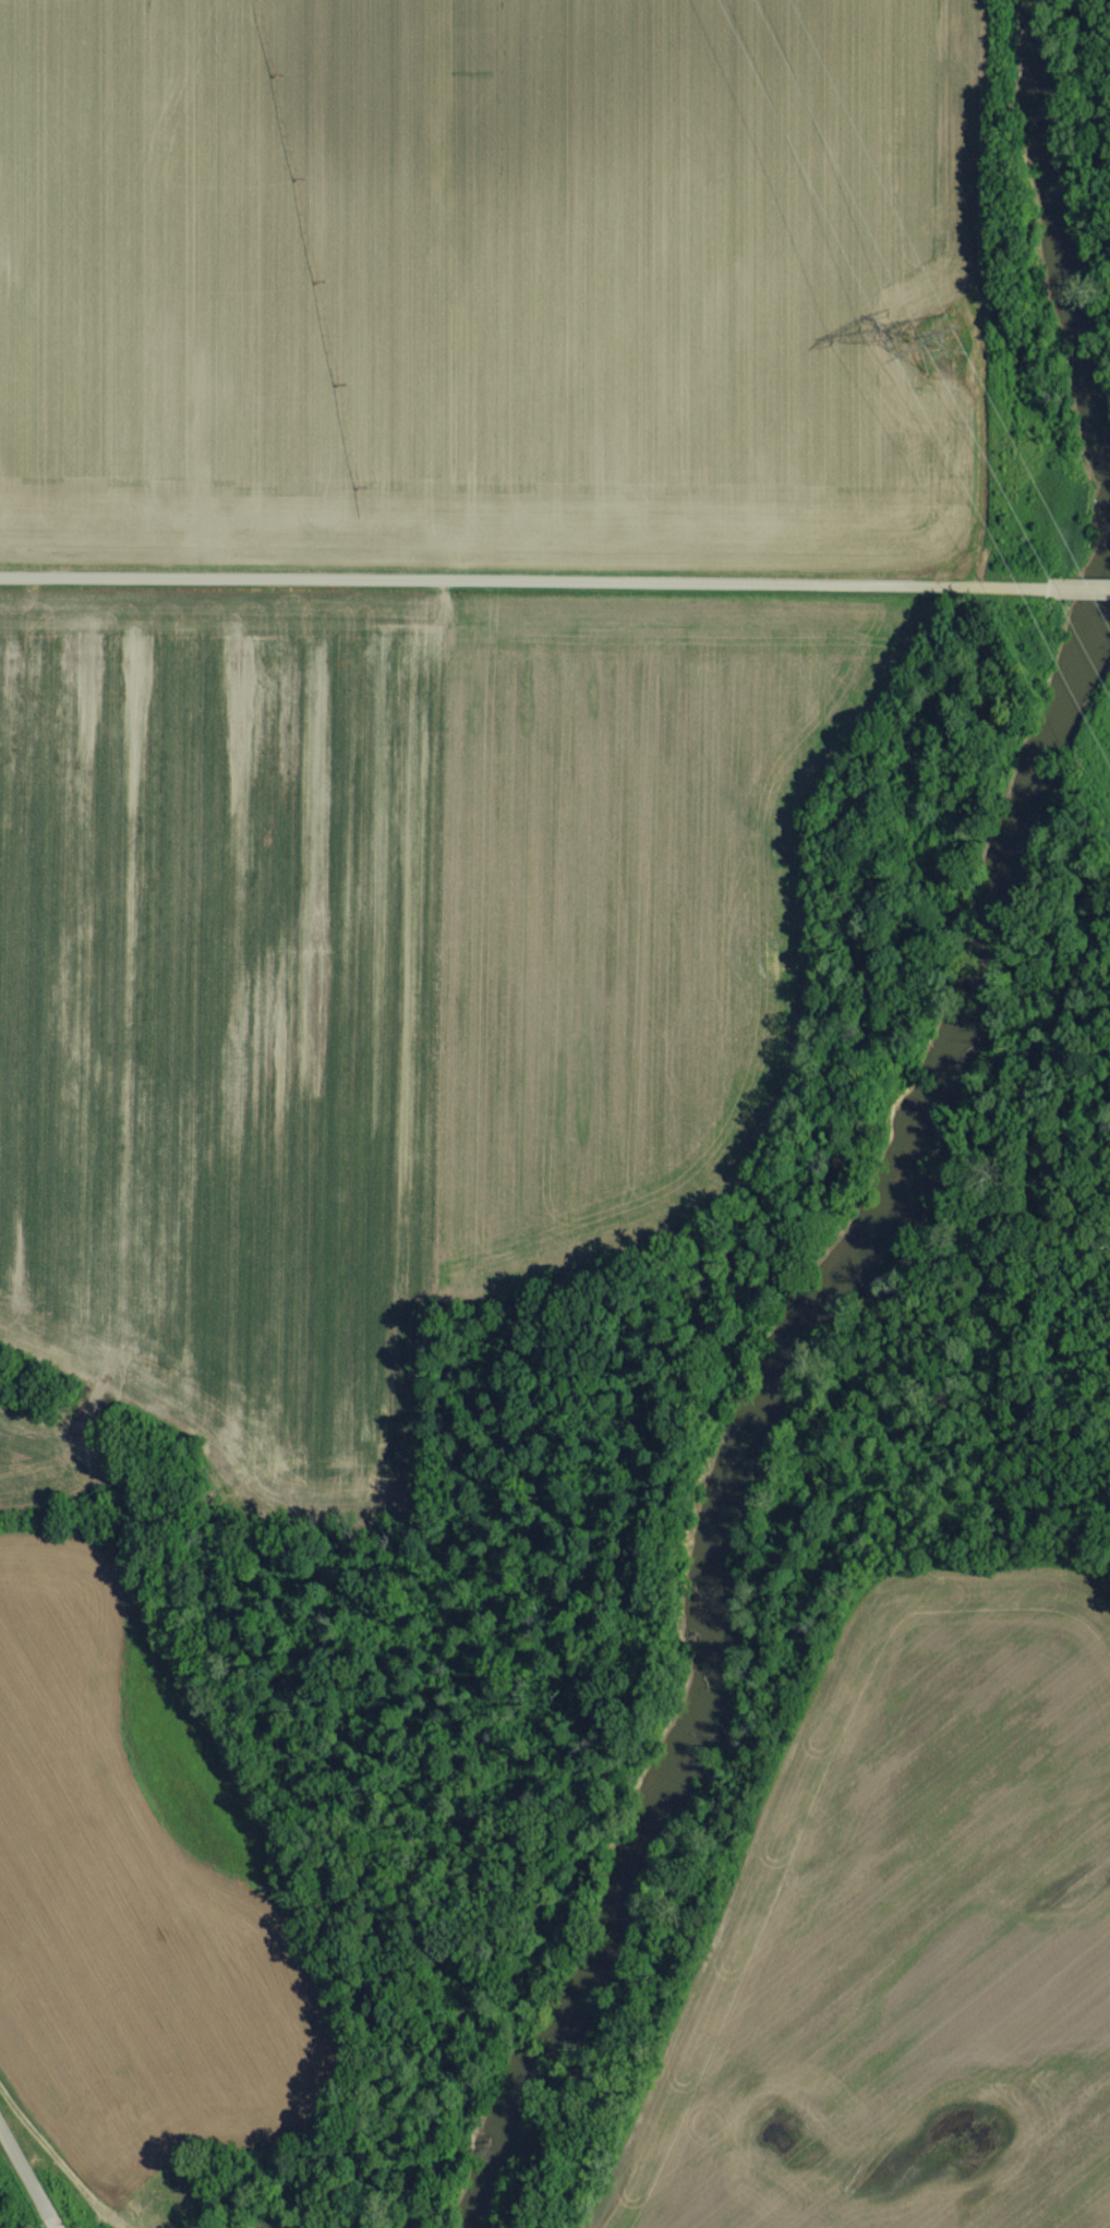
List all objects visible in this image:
power tower: (939, 352)
road: (555, 594)
road: (57, 2135)

